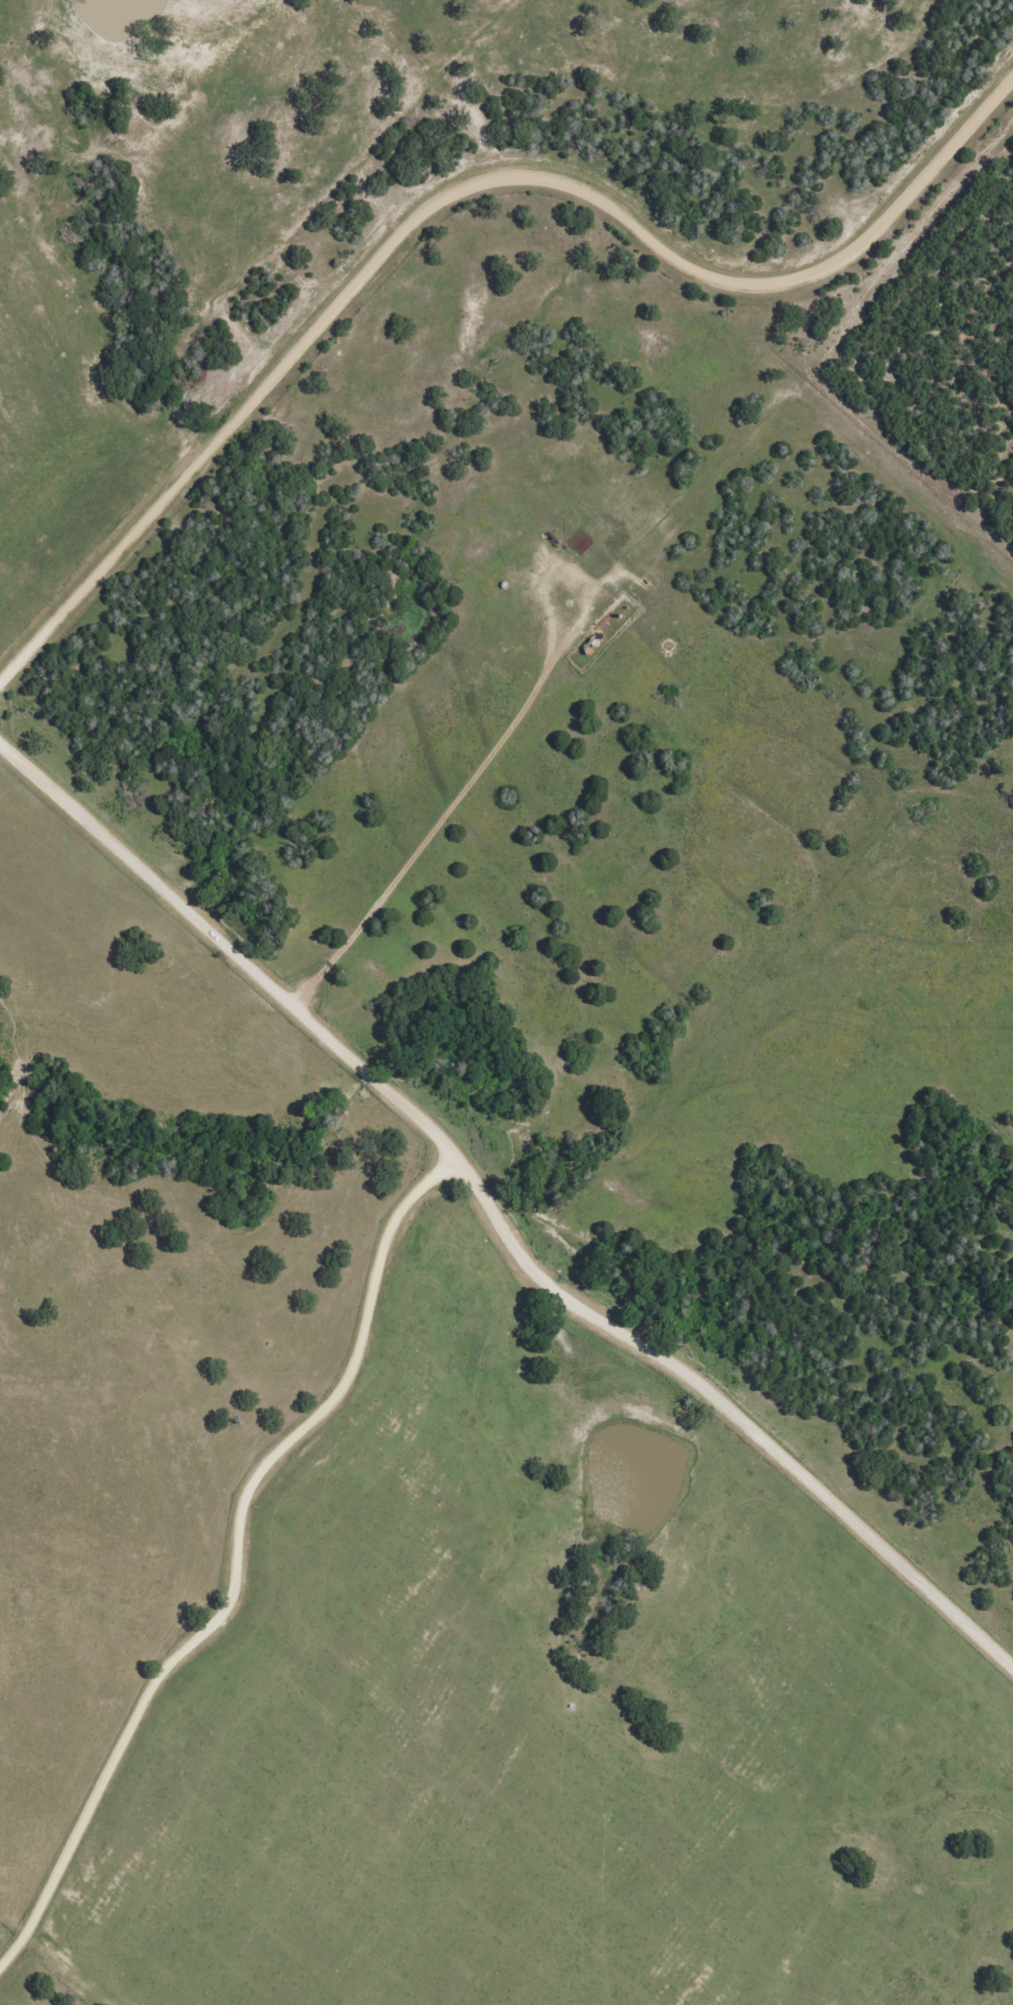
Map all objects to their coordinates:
road: (456, 184)
road: (494, 1216)
road: (238, 1552)

